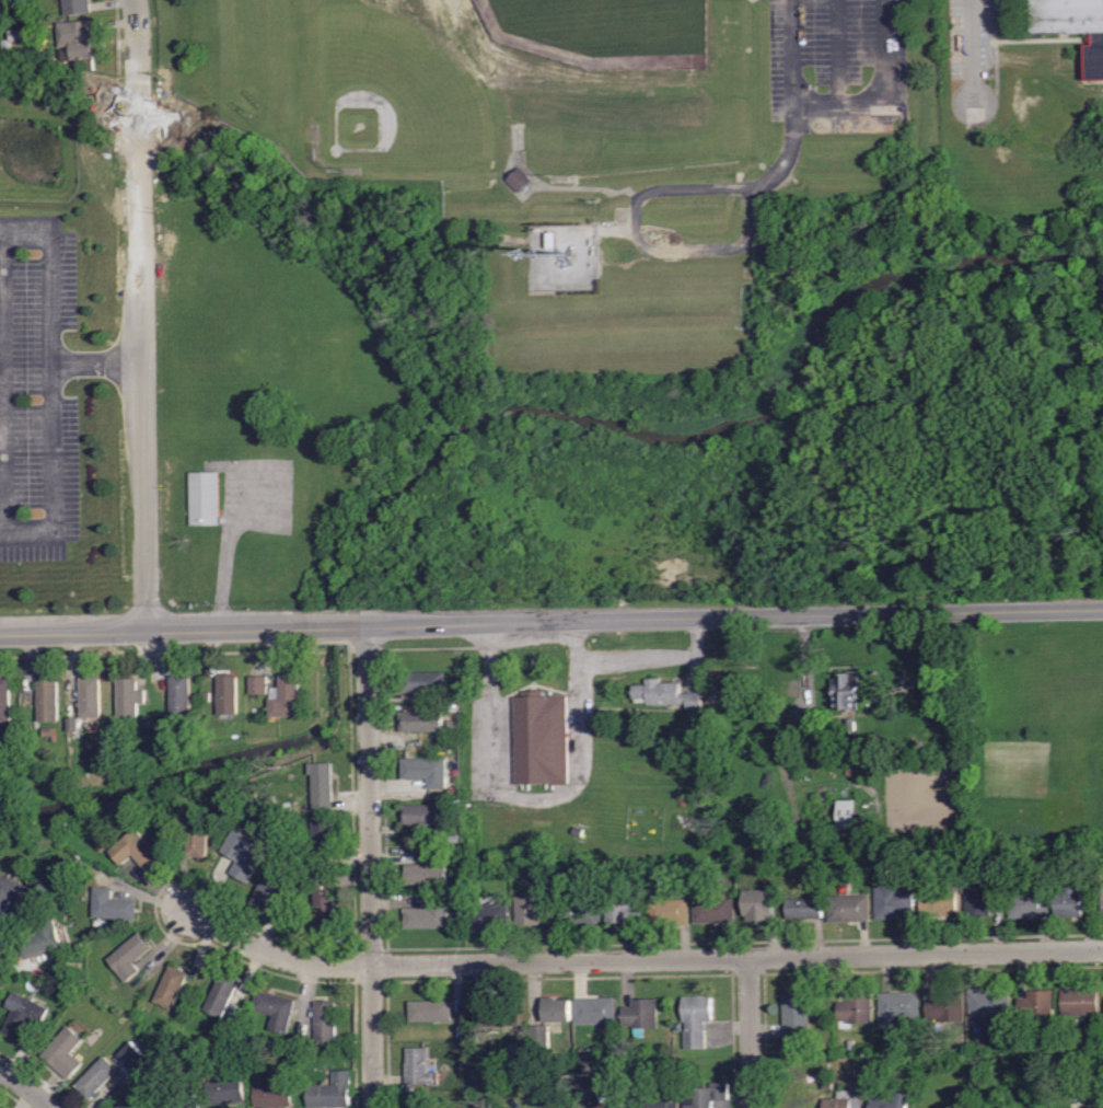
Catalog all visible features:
park: (301, 2)
building: (77, 5)
building: (1072, 24)
park: (603, 32)
building: (79, 37)
road: (973, 51)
road: (838, 53)
road: (883, 53)
park: (402, 88)
road: (793, 97)
building: (521, 180)
road: (639, 197)
road: (49, 275)
road: (141, 313)
road: (51, 428)
road: (1, 497)
building: (204, 497)
road: (227, 563)
road: (723, 616)
road: (328, 625)
road: (155, 627)
road: (806, 657)
road: (657, 659)
building: (425, 683)
building: (260, 685)
building: (846, 691)
building: (228, 695)
building: (666, 695)
building: (208, 696)
building: (287, 696)
building: (93, 697)
building: (181, 697)
building: (453, 699)
building: (4, 701)
building: (131, 701)
building: (48, 702)
building: (422, 723)
building: (148, 724)
building: (850, 726)
building: (30, 729)
building: (804, 732)
building: (49, 734)
building: (541, 738)
building: (427, 773)
building: (324, 783)
building: (454, 794)
road: (534, 798)
building: (271, 801)
building: (249, 803)
building: (845, 815)
building: (422, 816)
building: (681, 819)
building: (578, 832)
building: (200, 838)
building: (325, 838)
building: (455, 839)
building: (100, 846)
building: (247, 852)
building: (140, 853)
building: (79, 862)
road: (370, 866)
building: (773, 866)
building: (85, 868)
building: (695, 870)
building: (292, 872)
building: (883, 872)
building: (561, 873)
building: (652, 874)
building: (426, 875)
building: (1011, 877)
building: (922, 878)
building: (313, 882)
building: (1001, 886)
building: (270, 893)
building: (10, 896)
building: (1101, 897)
building: (35, 899)
building: (983, 900)
building: (892, 902)
building: (1030, 903)
building: (1072, 903)
building: (712, 904)
building: (939, 904)
building: (762, 905)
building: (114, 907)
building: (622, 908)
building: (327, 909)
building: (804, 909)
building: (849, 910)
building: (533, 911)
building: (579, 912)
building: (667, 912)
building: (428, 916)
building: (488, 916)
building: (42, 938)
road: (275, 955)
road: (736, 956)
building: (130, 957)
building: (171, 989)
building: (222, 996)
building: (1079, 1003)
building: (1036, 1006)
building: (989, 1007)
building: (898, 1008)
building: (947, 1008)
building: (556, 1009)
building: (276, 1011)
building: (595, 1012)
building: (856, 1012)
building: (431, 1013)
building: (499, 1014)
building: (24, 1015)
building: (236, 1015)
building: (641, 1016)
building: (797, 1017)
building: (326, 1022)
building: (695, 1022)
building: (161, 1031)
road: (750, 1031)
building: (539, 1038)
building: (1021, 1039)
building: (883, 1044)
building: (851, 1046)
building: (626, 1047)
building: (301, 1049)
building: (519, 1050)
building: (287, 1052)
building: (66, 1053)
building: (133, 1057)
building: (689, 1066)
building: (419, 1069)
building: (96, 1078)
building: (202, 1081)
road: (25, 1085)
building: (827, 1088)
building: (1077, 1088)
building: (721, 1092)
building: (227, 1093)
building: (332, 1093)
building: (276, 1095)
building: (846, 1097)
building: (704, 1098)
building: (182, 1101)
building: (901, 1101)
building: (418, 1103)
building: (609, 1103)
building: (660, 1105)
building: (121, 1107)

